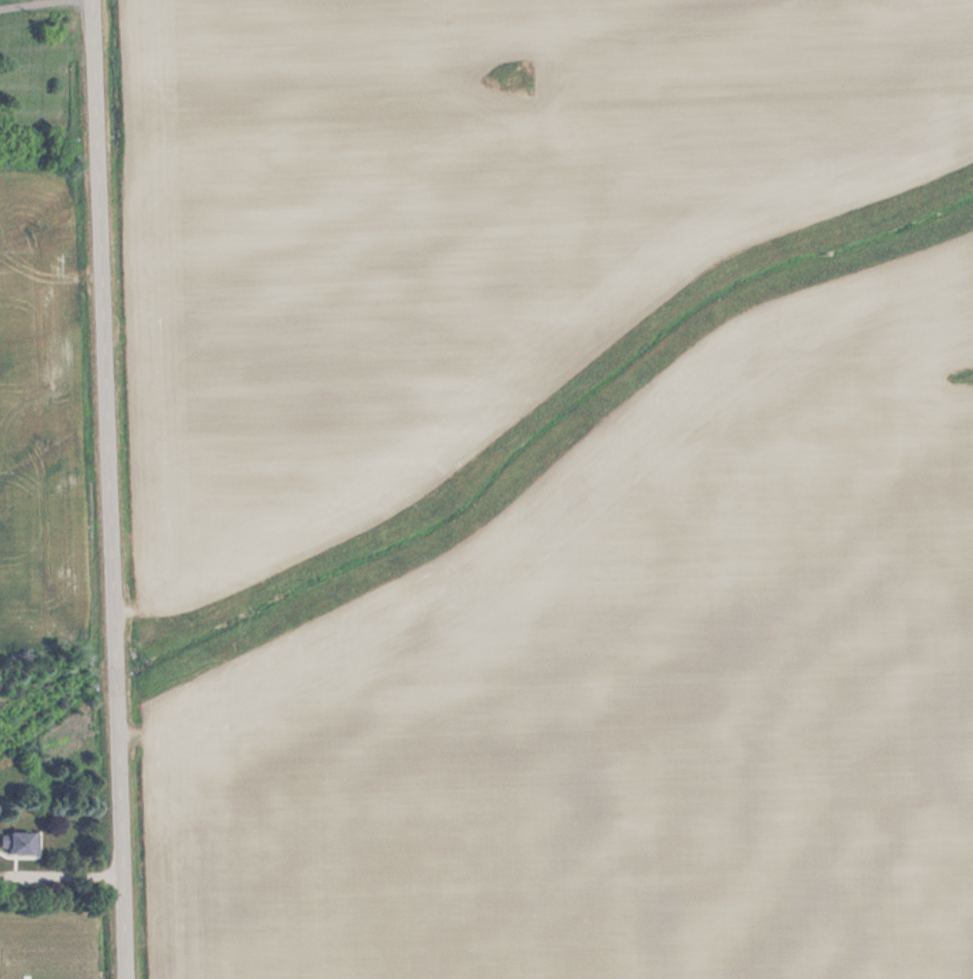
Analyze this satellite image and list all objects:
road: (109, 489)
building: (24, 841)

